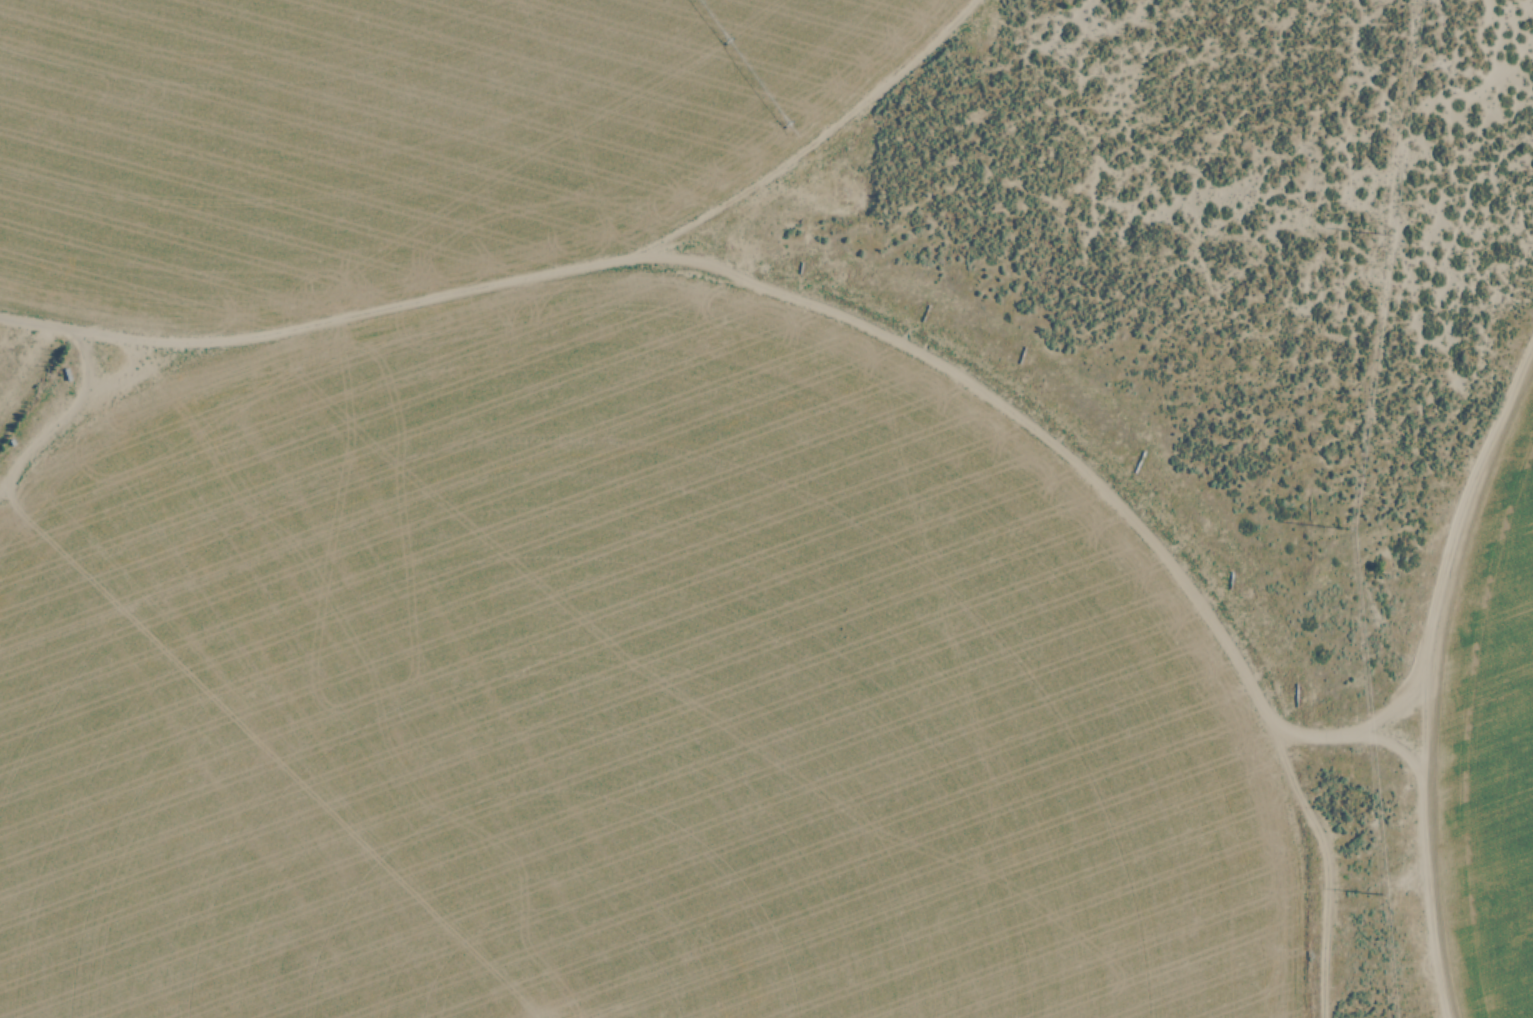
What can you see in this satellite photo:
crop: (396, 138)
crop: (604, 707)
crop: (1492, 747)

